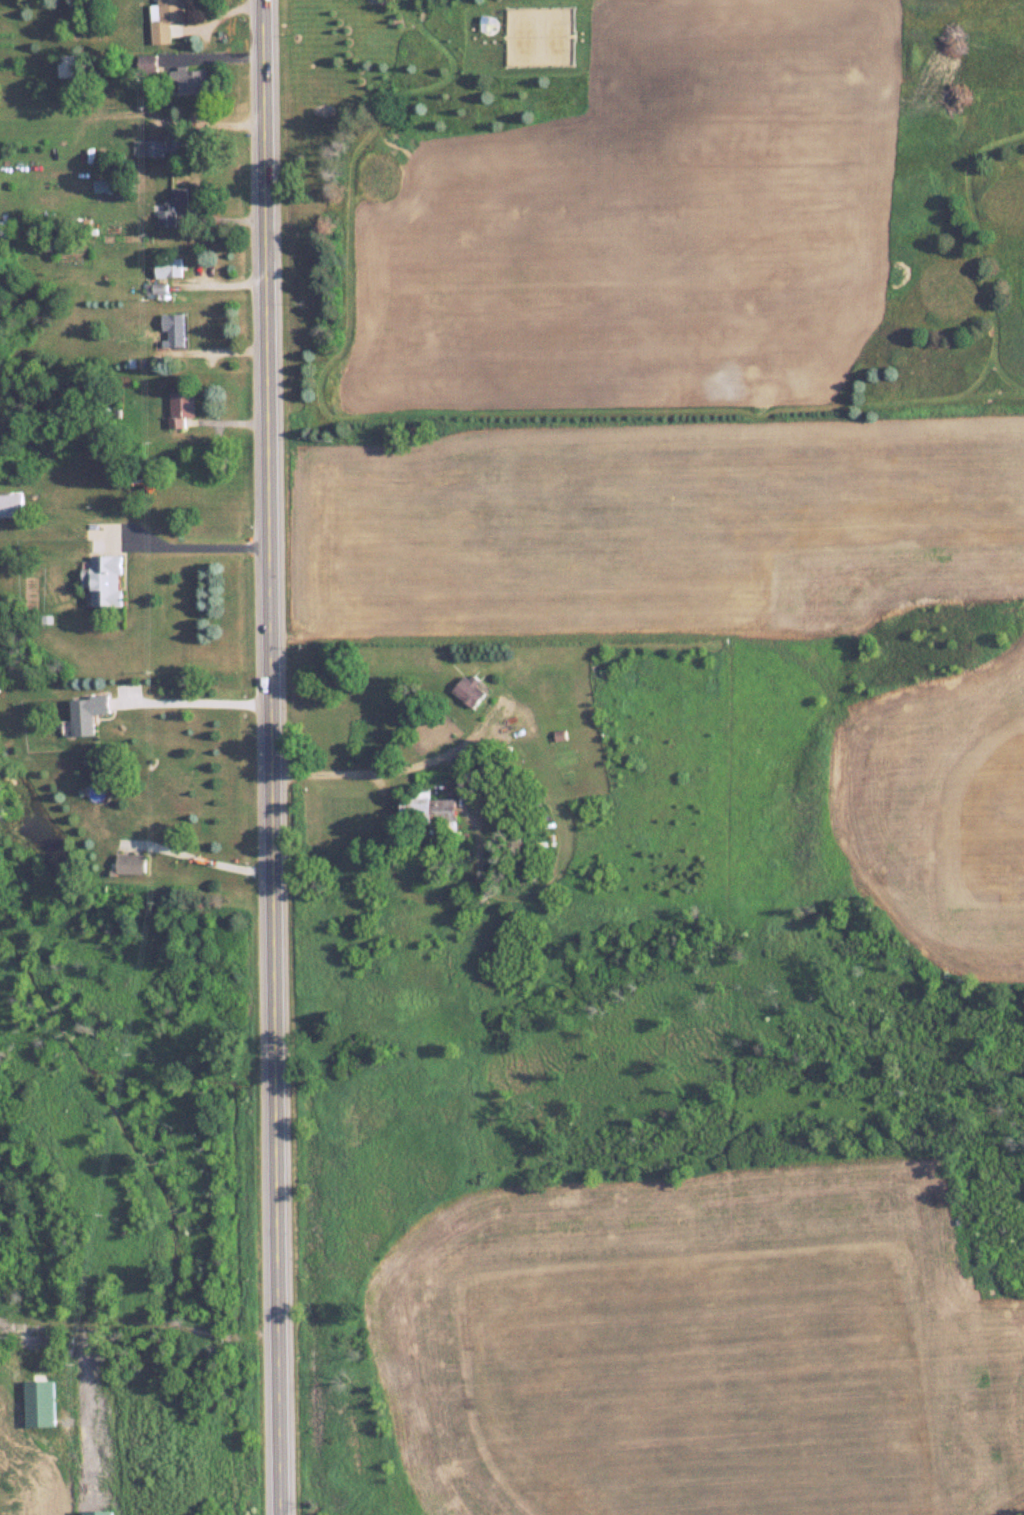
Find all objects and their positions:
building: (163, 19)
building: (65, 65)
building: (189, 81)
building: (167, 144)
building: (103, 185)
building: (171, 206)
park: (649, 210)
building: (167, 265)
building: (171, 328)
building: (178, 407)
building: (10, 505)
road: (198, 551)
building: (105, 580)
building: (468, 690)
building: (85, 713)
road: (269, 757)
road: (395, 769)
building: (429, 812)
building: (128, 863)
road: (88, 1324)
building: (3, 1340)

